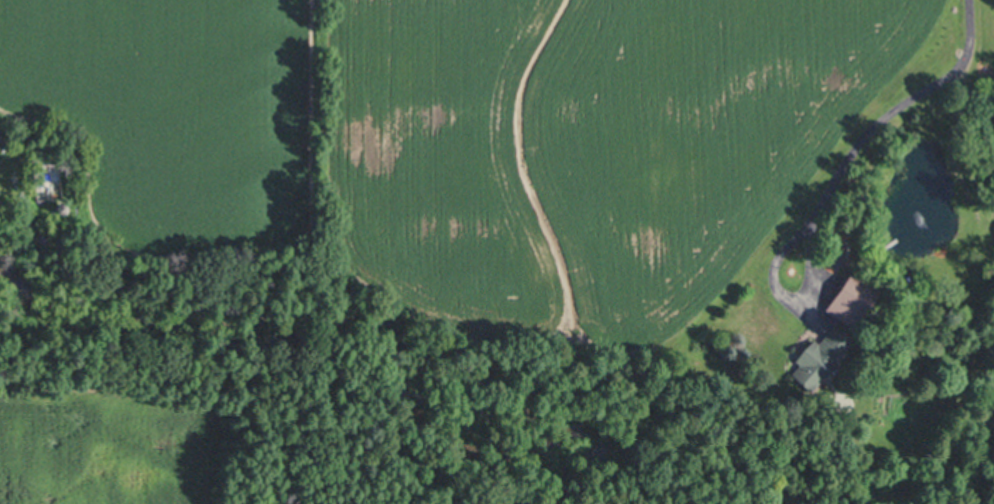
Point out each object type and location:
road: (890, 108)
building: (6, 143)
building: (49, 179)
building: (61, 207)
road: (786, 291)
building: (852, 298)
river: (281, 327)
building: (821, 356)
river: (928, 479)

